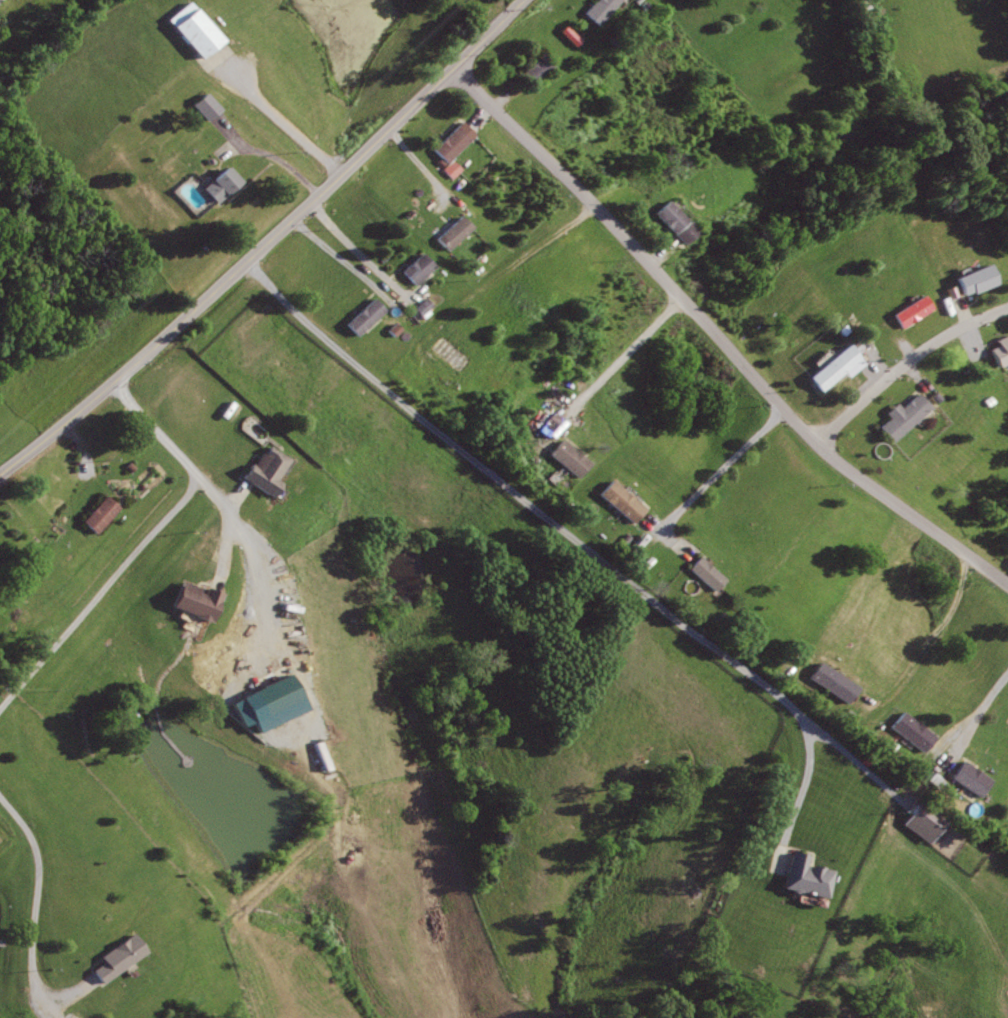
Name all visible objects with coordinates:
building: (603, 9)
building: (199, 36)
building: (567, 36)
building: (538, 69)
road: (508, 96)
building: (206, 106)
building: (477, 122)
road: (278, 123)
building: (453, 144)
road: (266, 154)
road: (418, 163)
building: (764, 165)
building: (446, 172)
building: (221, 184)
building: (676, 222)
building: (454, 232)
road: (266, 243)
road: (660, 254)
road: (347, 263)
building: (417, 267)
road: (502, 270)
building: (973, 278)
building: (423, 304)
road: (268, 309)
building: (418, 309)
building: (910, 311)
road: (962, 311)
building: (364, 315)
building: (393, 328)
road: (974, 338)
road: (717, 341)
road: (904, 343)
building: (1000, 349)
building: (449, 351)
road: (607, 362)
building: (279, 364)
road: (905, 364)
road: (877, 365)
building: (836, 366)
road: (918, 377)
building: (295, 394)
building: (907, 415)
road: (174, 443)
building: (569, 458)
road: (720, 470)
building: (266, 471)
building: (621, 502)
building: (103, 513)
road: (225, 542)
road: (586, 548)
building: (706, 574)
road: (105, 591)
building: (199, 601)
road: (923, 645)
building: (831, 682)
building: (269, 694)
road: (980, 712)
building: (910, 731)
building: (972, 777)
building: (934, 779)
building: (917, 822)
building: (808, 876)
road: (37, 917)
building: (119, 956)
building: (71, 1017)
building: (75, 1017)

